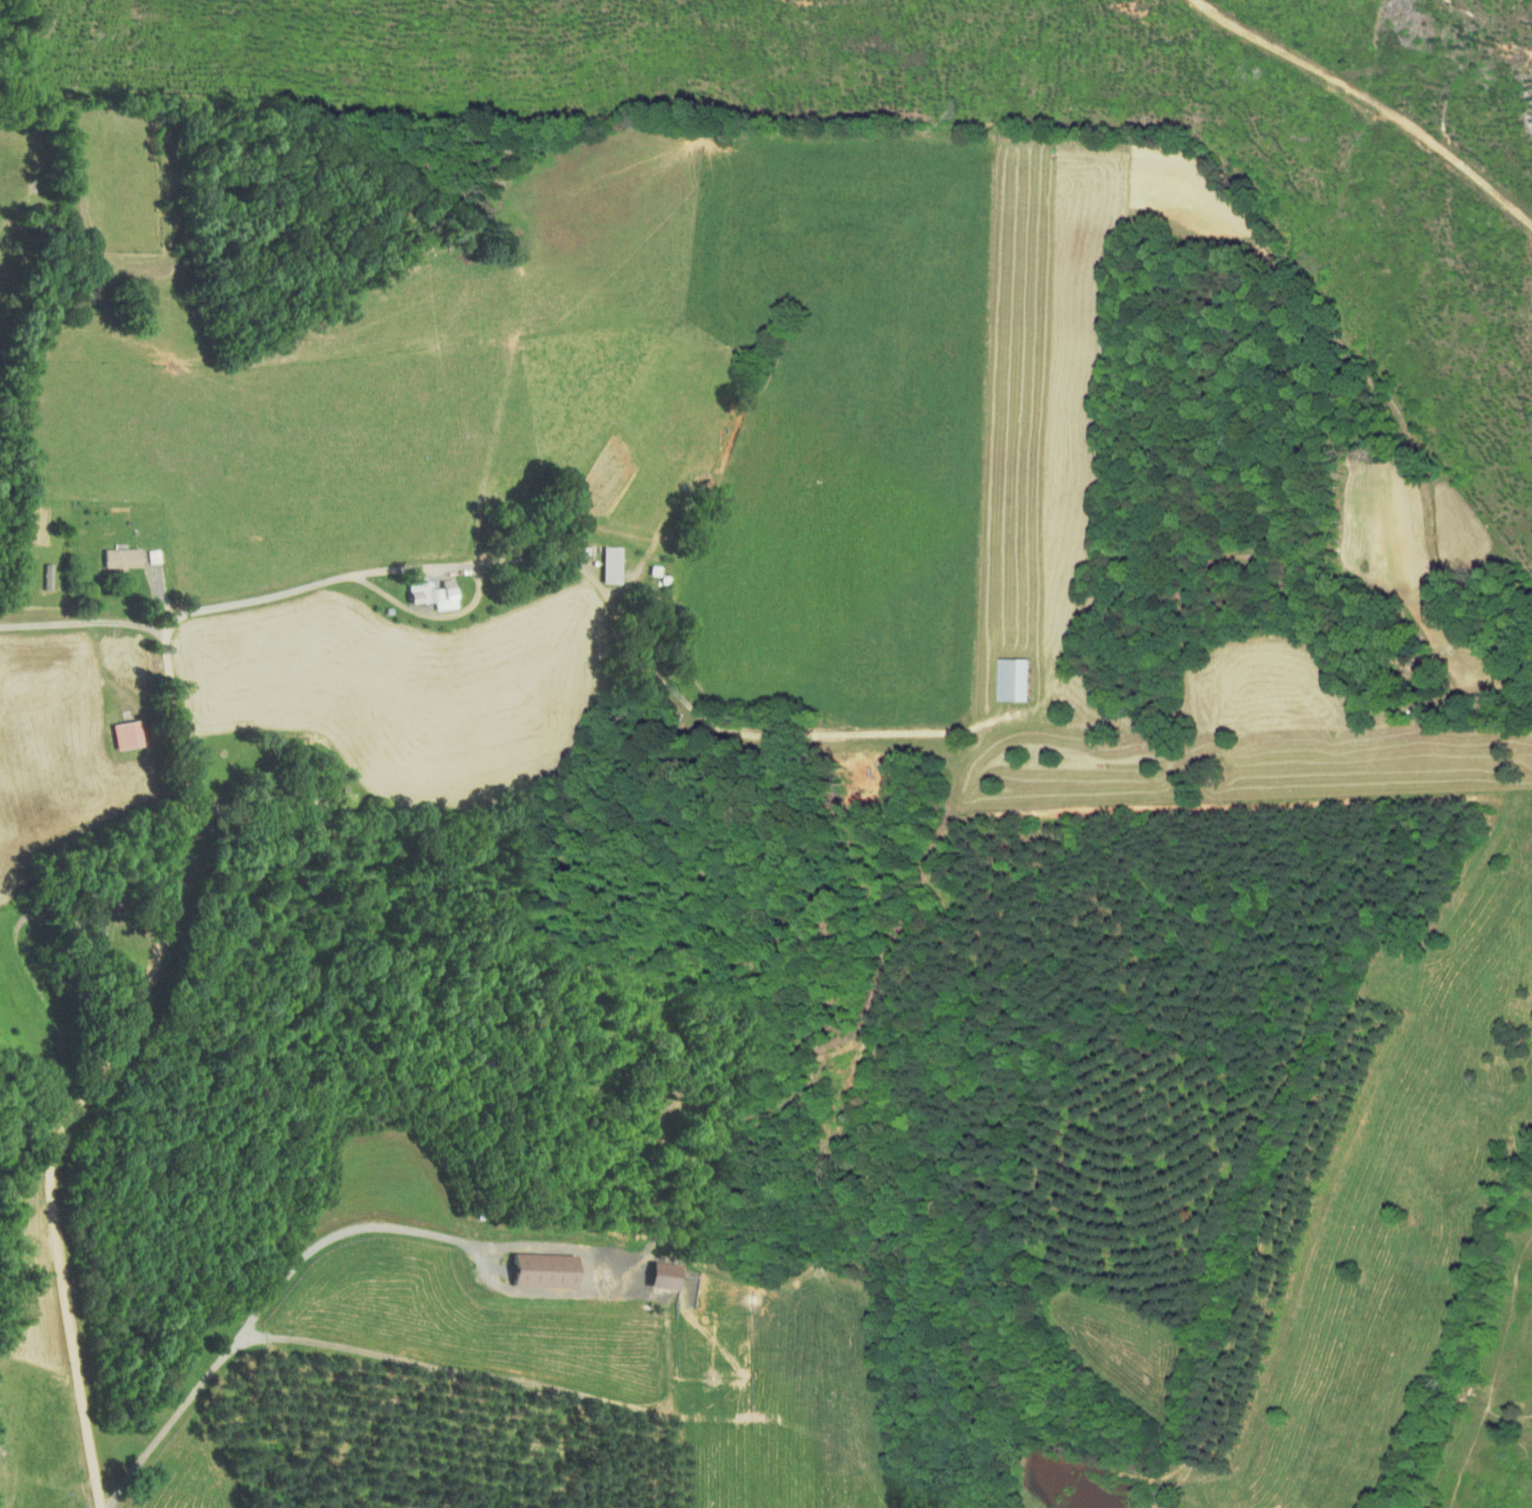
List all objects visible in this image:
building: (152, 555)
building: (119, 557)
building: (609, 564)
road: (604, 590)
building: (430, 593)
road: (432, 614)
road: (83, 622)
building: (1010, 679)
building: (122, 734)
road: (251, 798)
road: (137, 904)
road: (69, 1032)
road: (119, 1048)
building: (539, 1270)
building: (660, 1276)
road: (266, 1304)

